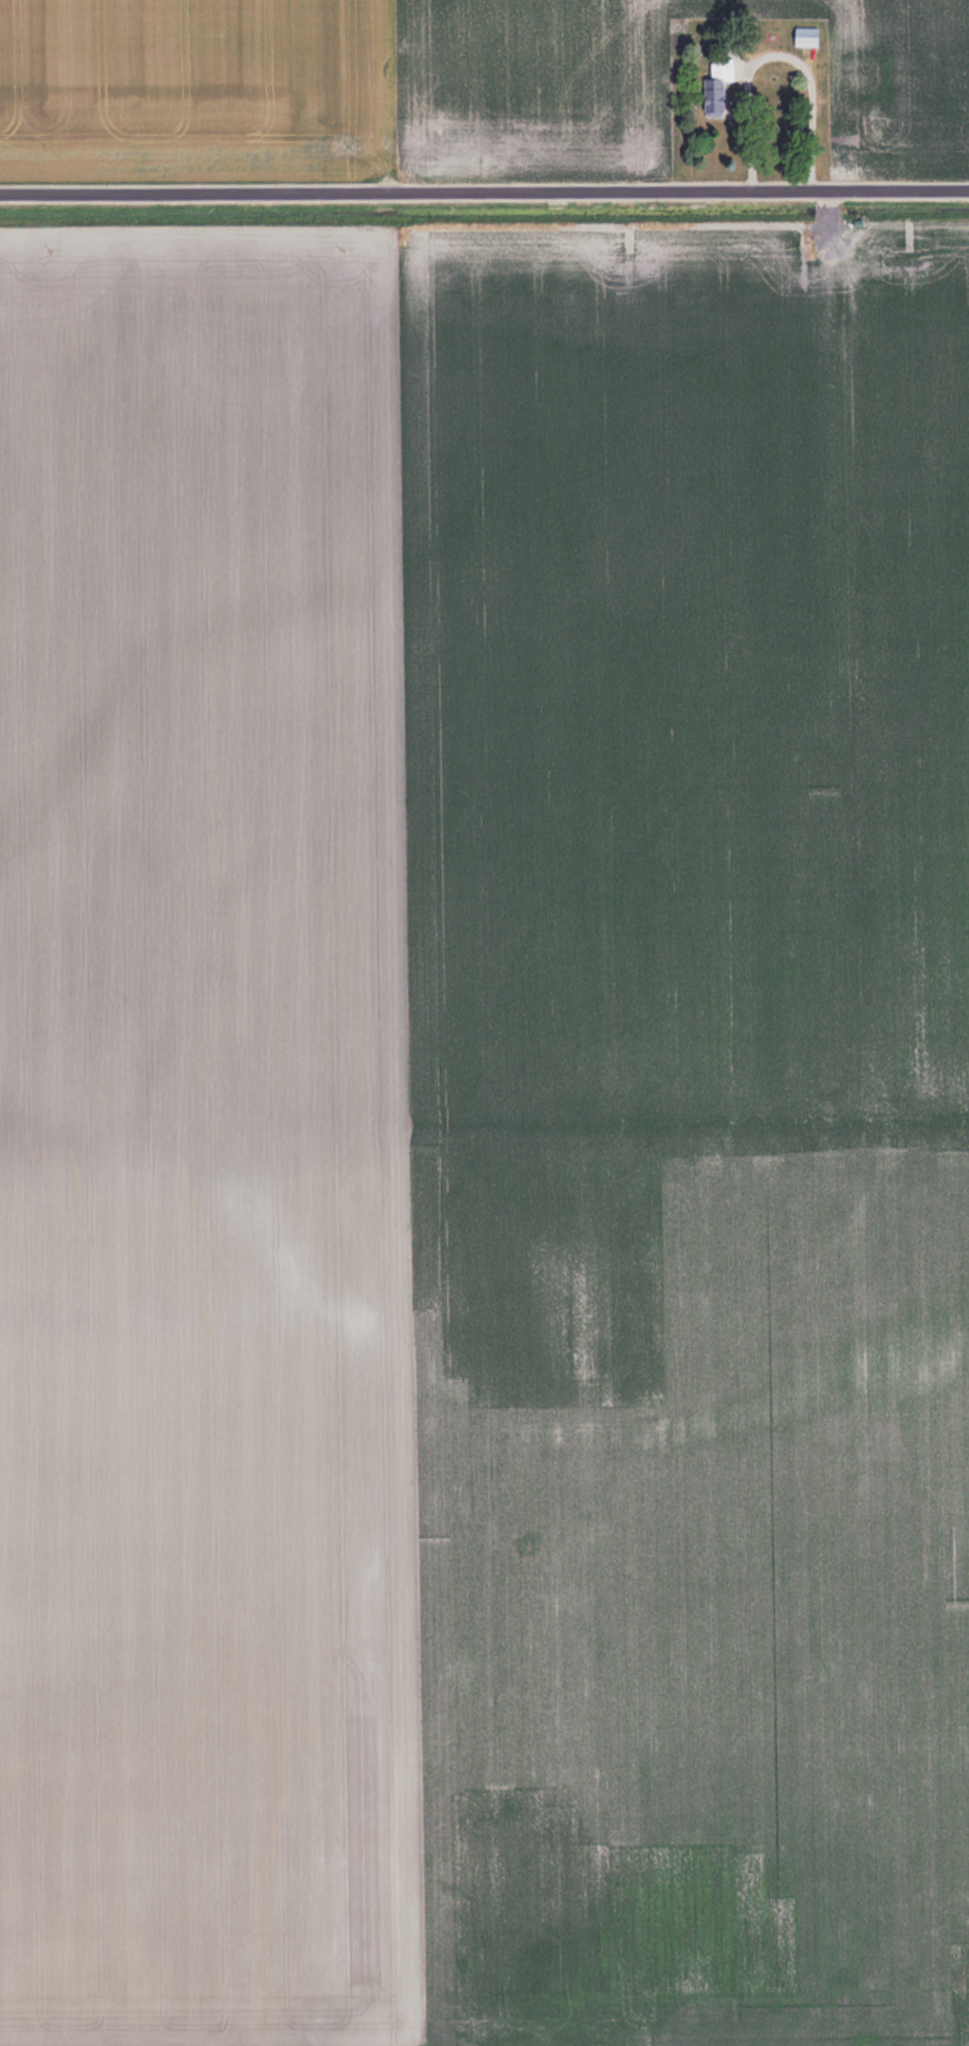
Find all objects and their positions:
building: (774, 5)
building: (804, 36)
building: (855, 76)
building: (715, 86)
road: (484, 199)

